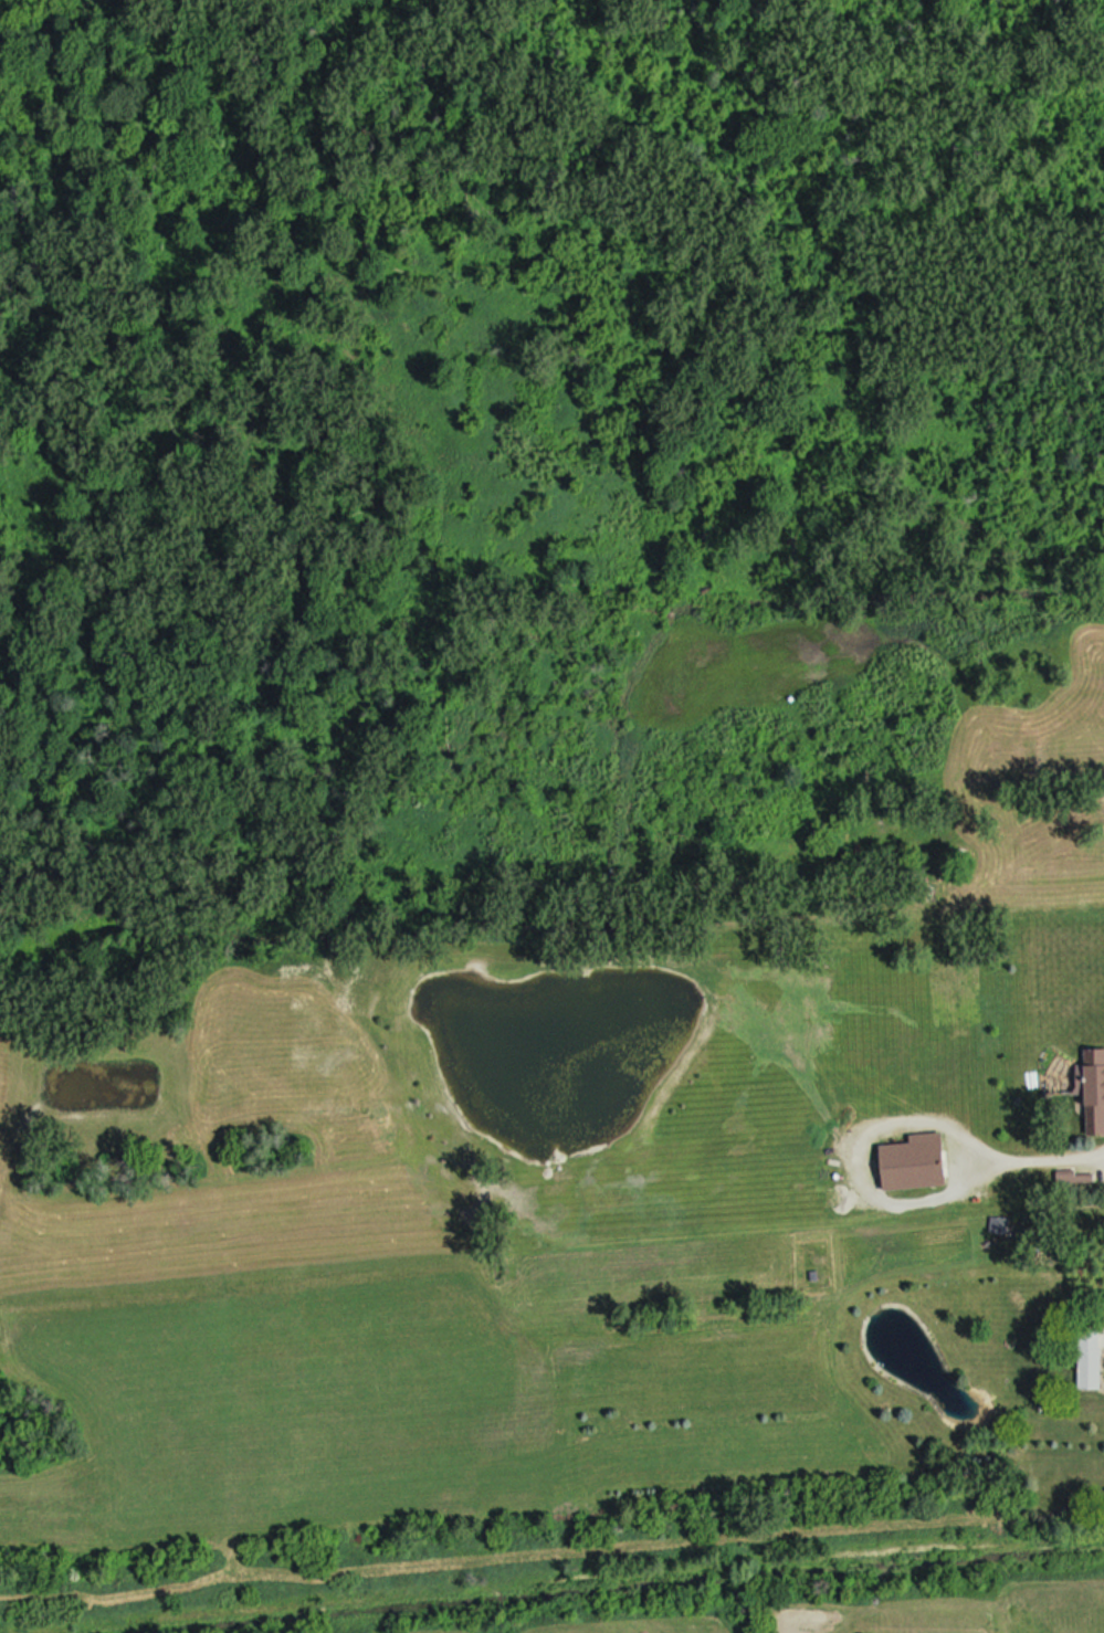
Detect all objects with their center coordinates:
building: (1094, 1091)
road: (1102, 1152)
building: (915, 1165)
building: (1000, 1226)
building: (1091, 1361)

